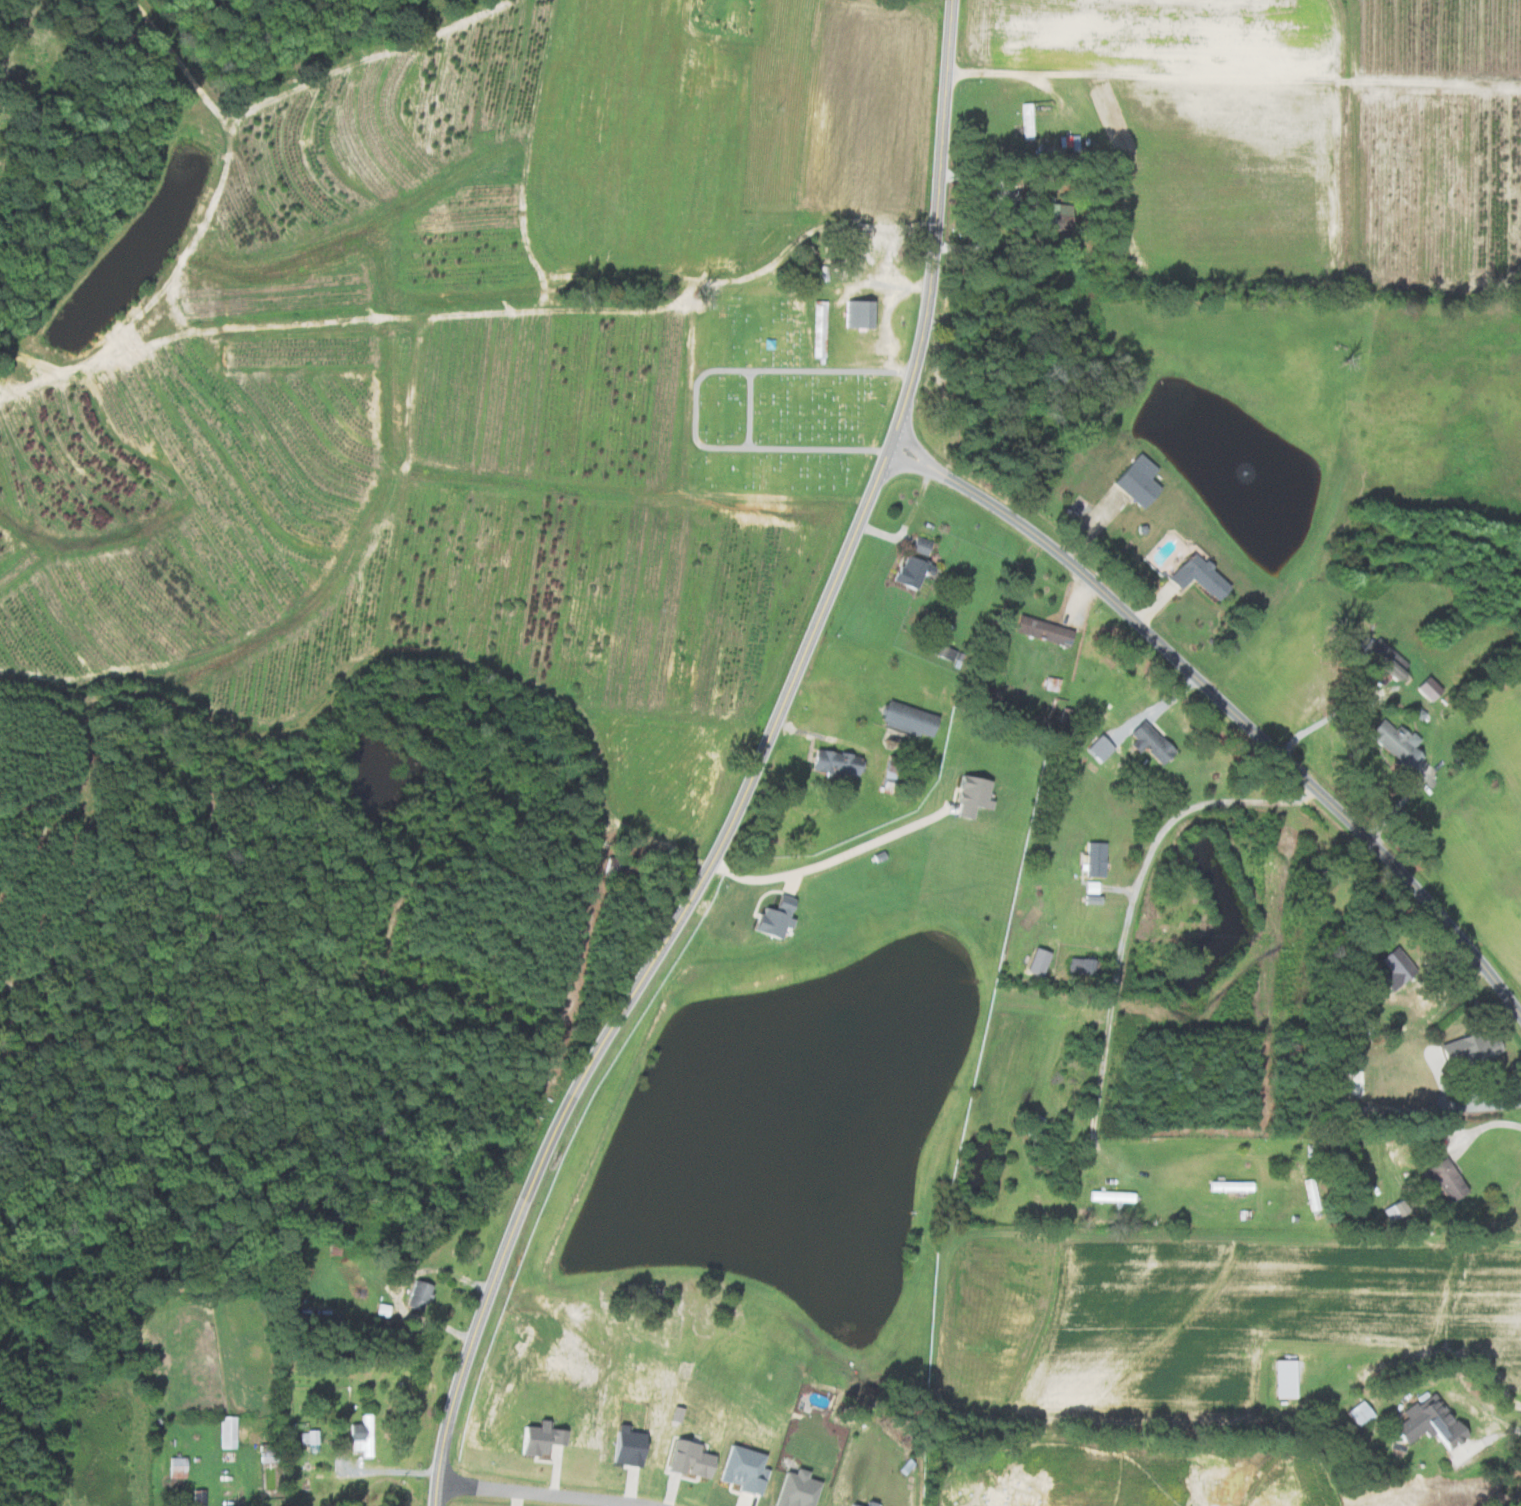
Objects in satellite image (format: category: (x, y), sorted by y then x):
road: (1233, 81)
building: (1050, 217)
building: (855, 314)
road: (886, 318)
building: (1135, 480)
building: (917, 546)
building: (910, 572)
building: (1196, 576)
building: (1040, 631)
building: (1381, 662)
building: (1425, 688)
road: (1229, 707)
building: (905, 719)
road: (1324, 719)
building: (1146, 743)
building: (1394, 744)
building: (831, 763)
road: (752, 772)
building: (968, 796)
building: (1092, 859)
road: (830, 861)
building: (770, 919)
road: (1117, 963)
building: (1078, 966)
building: (1394, 969)
building: (1477, 1049)
road: (1497, 1103)
road: (1483, 1126)
building: (1442, 1180)
building: (1110, 1196)
building: (1391, 1211)
road: (402, 1290)
building: (417, 1295)
building: (1280, 1378)
building: (1358, 1413)
road: (1491, 1413)
building: (1427, 1422)
building: (226, 1432)
building: (360, 1436)
building: (308, 1440)
road: (388, 1470)
road: (240, 1489)
road: (540, 1493)
building: (865, 1503)
building: (847, 1505)

